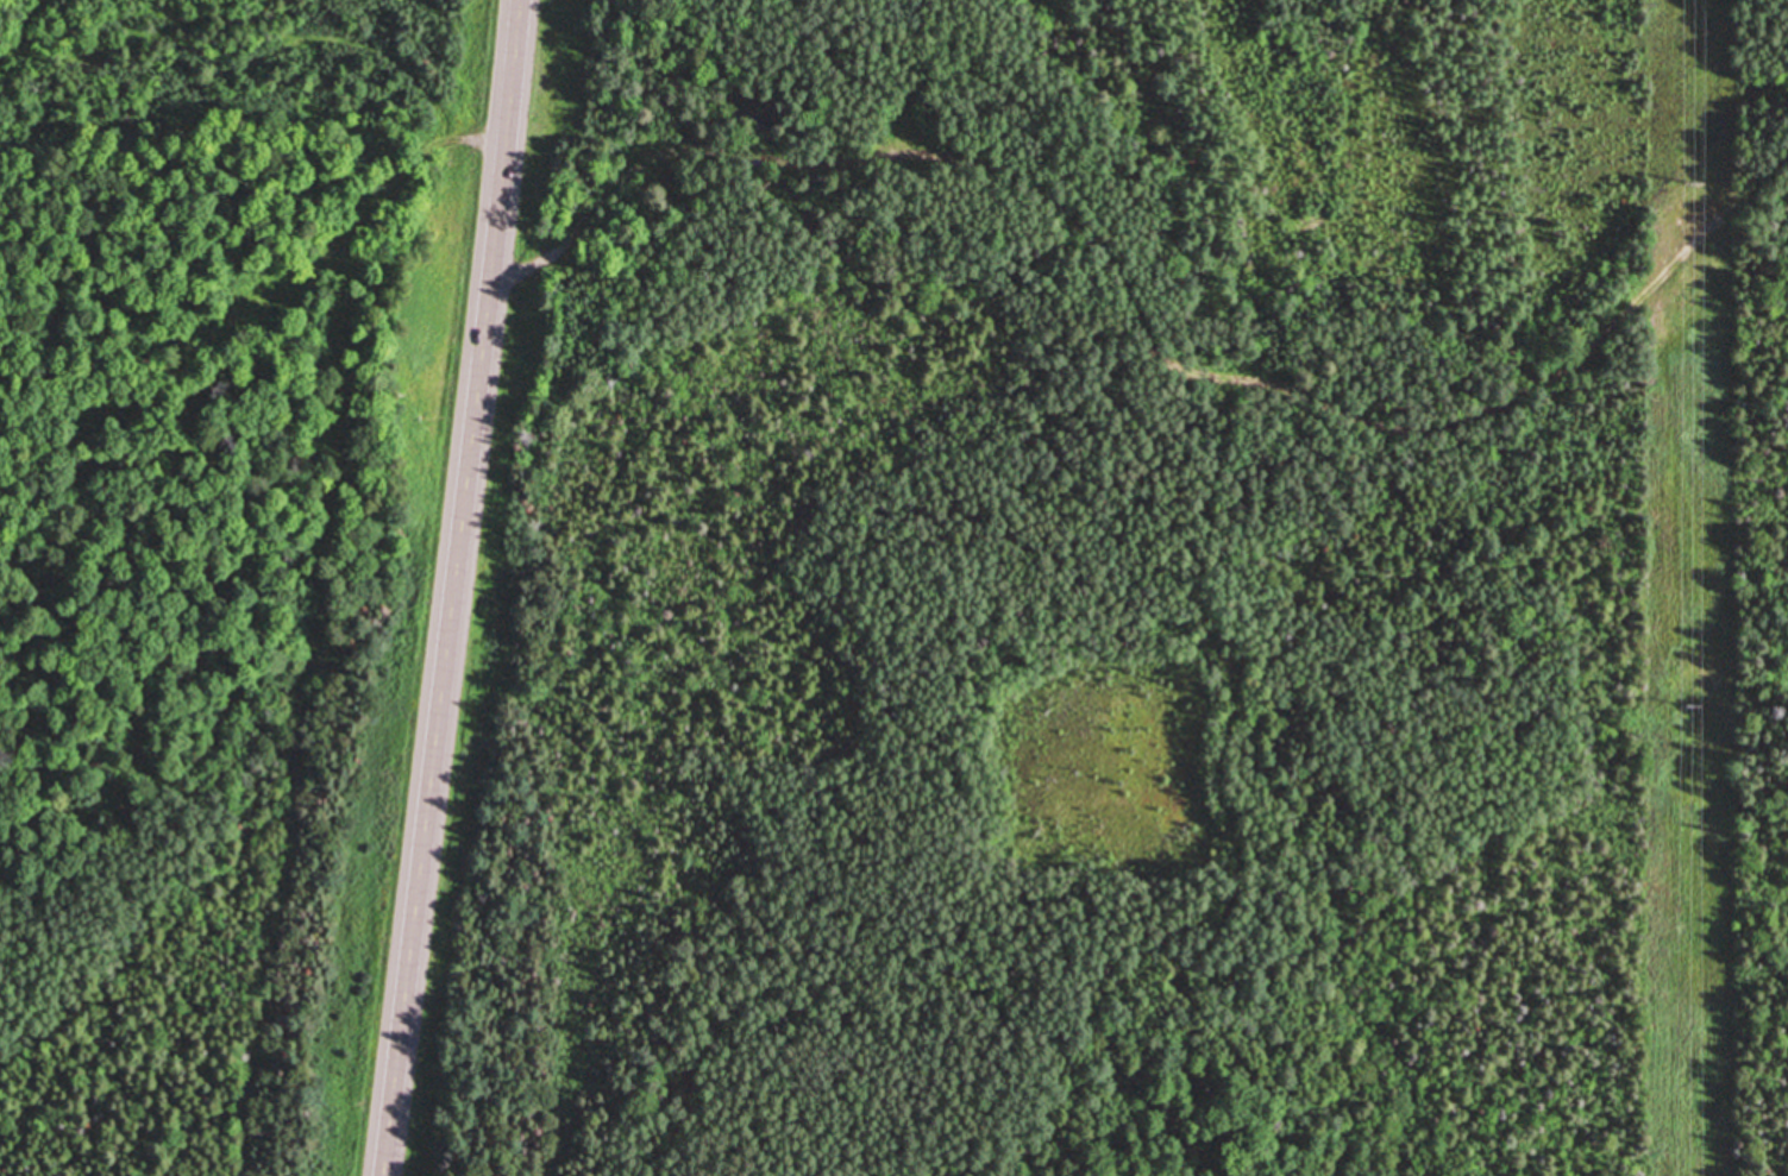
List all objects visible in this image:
power tower: (1698, 190)
road: (1137, 320)
road: (459, 587)
power tower: (1695, 706)

